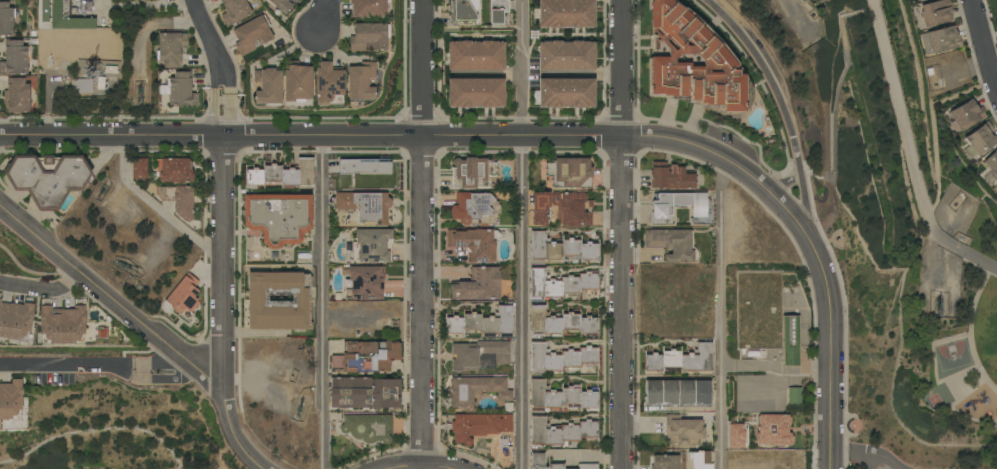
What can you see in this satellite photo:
building: (917, 0)
building: (921, 0)
building: (280, 5)
building: (369, 8)
building: (234, 11)
building: (498, 11)
building: (463, 12)
building: (936, 12)
building: (566, 14)
building: (67, 17)
building: (6, 19)
road: (323, 19)
building: (996, 20)
building: (252, 34)
building: (368, 37)
building: (944, 39)
road: (214, 43)
road: (983, 44)
building: (171, 49)
building: (475, 55)
building: (566, 56)
building: (15, 58)
building: (693, 62)
building: (111, 70)
building: (360, 81)
building: (296, 82)
building: (101, 83)
building: (328, 84)
building: (83, 86)
building: (268, 87)
building: (181, 89)
building: (476, 93)
building: (566, 93)
building: (17, 95)
petroleum well: (139, 95)
road: (836, 98)
road: (784, 108)
building: (967, 115)
road: (423, 137)
building: (981, 138)
road: (910, 152)
building: (992, 163)
building: (364, 166)
building: (139, 168)
building: (174, 170)
building: (570, 172)
building: (472, 173)
building: (282, 175)
building: (671, 177)
building: (47, 178)
building: (178, 199)
road: (154, 205)
building: (367, 207)
building: (472, 208)
building: (540, 208)
building: (700, 208)
building: (574, 209)
building: (278, 217)
road: (425, 232)
road: (522, 234)
road: (623, 234)
road: (222, 235)
building: (475, 243)
building: (673, 244)
building: (372, 246)
building: (560, 249)
park: (22, 257)
petroleum well: (125, 266)
road: (31, 272)
building: (365, 283)
building: (478, 285)
building: (561, 285)
road: (43, 290)
building: (184, 297)
building: (278, 302)
road: (321, 302)
petroleum well: (938, 303)
road: (721, 312)
building: (15, 320)
building: (482, 323)
building: (560, 323)
building: (62, 325)
building: (87, 328)
road: (149, 328)
building: (103, 333)
building: (791, 341)
road: (830, 352)
building: (478, 354)
building: (366, 356)
park: (913, 357)
park: (954, 357)
building: (560, 359)
building: (681, 360)
road: (68, 365)
road: (165, 372)
building: (476, 390)
building: (365, 392)
building: (677, 394)
building: (561, 397)
building: (794, 397)
park: (941, 398)
building: (11, 400)
petroleum well: (298, 409)
building: (365, 429)
building: (482, 430)
building: (774, 430)
building: (683, 431)
building: (559, 433)
building: (736, 436)
road: (870, 450)
building: (700, 460)
building: (665, 462)
building: (553, 463)
road: (416, 465)

